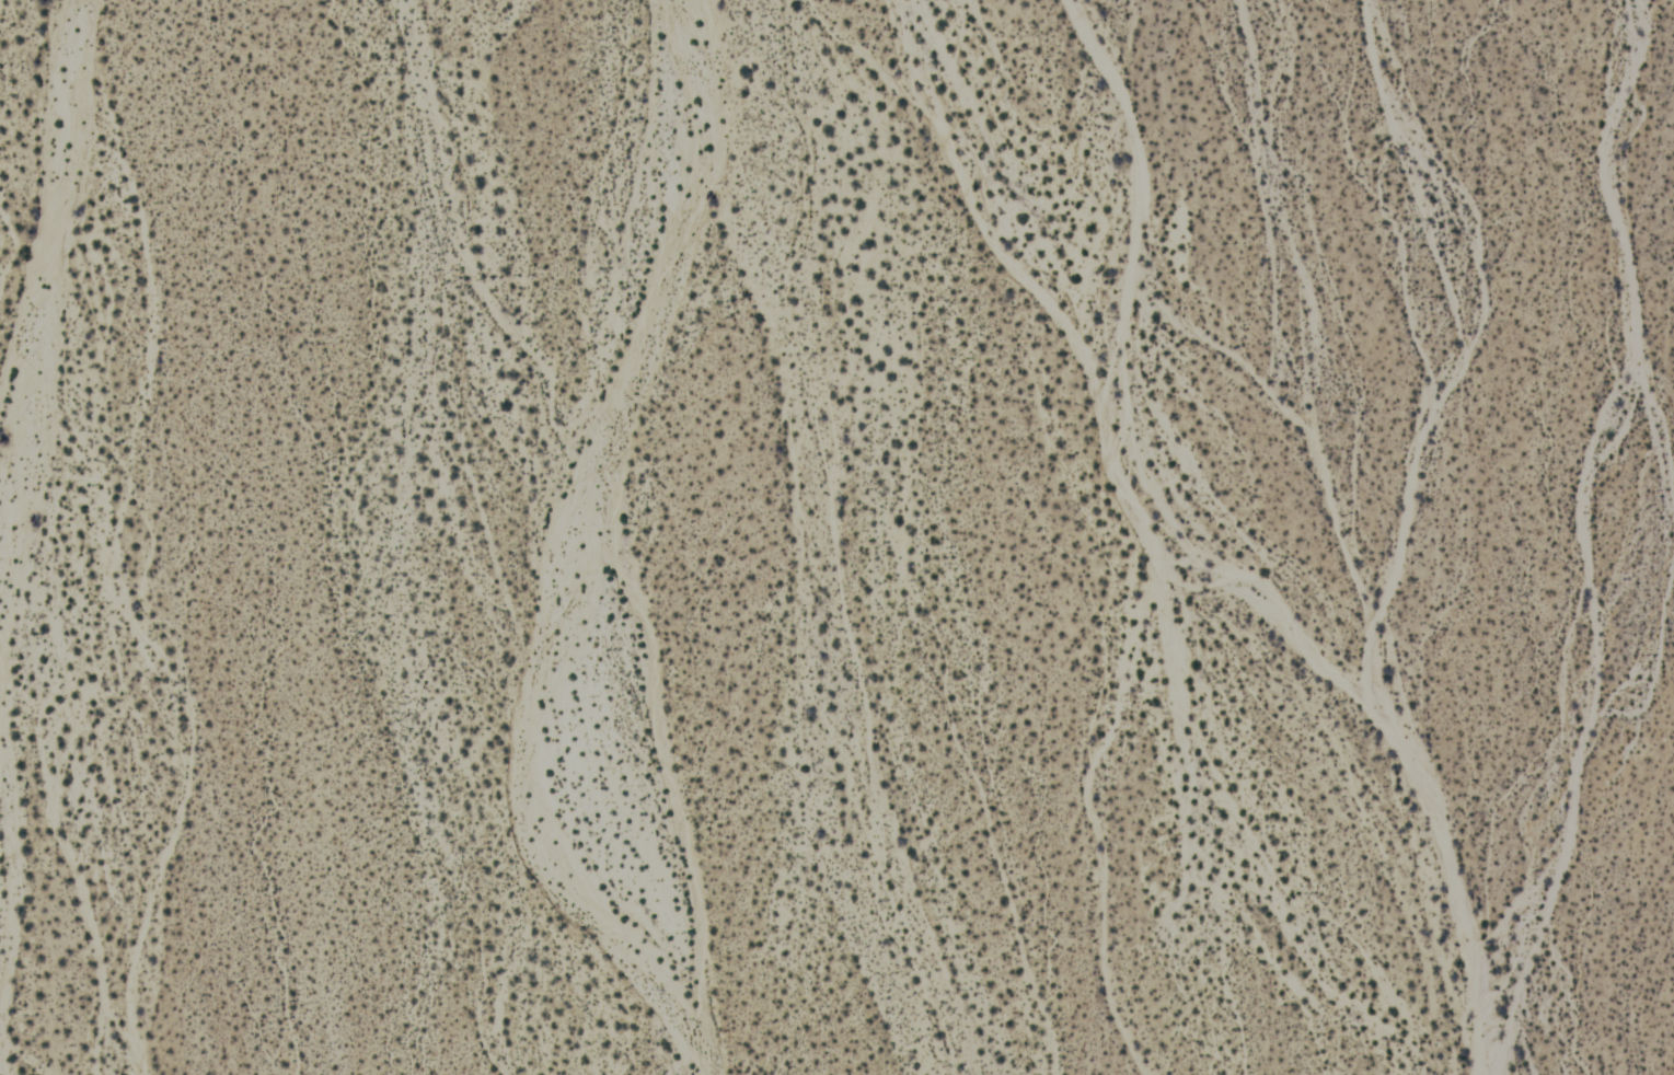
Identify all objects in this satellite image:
road: (25, 1064)

